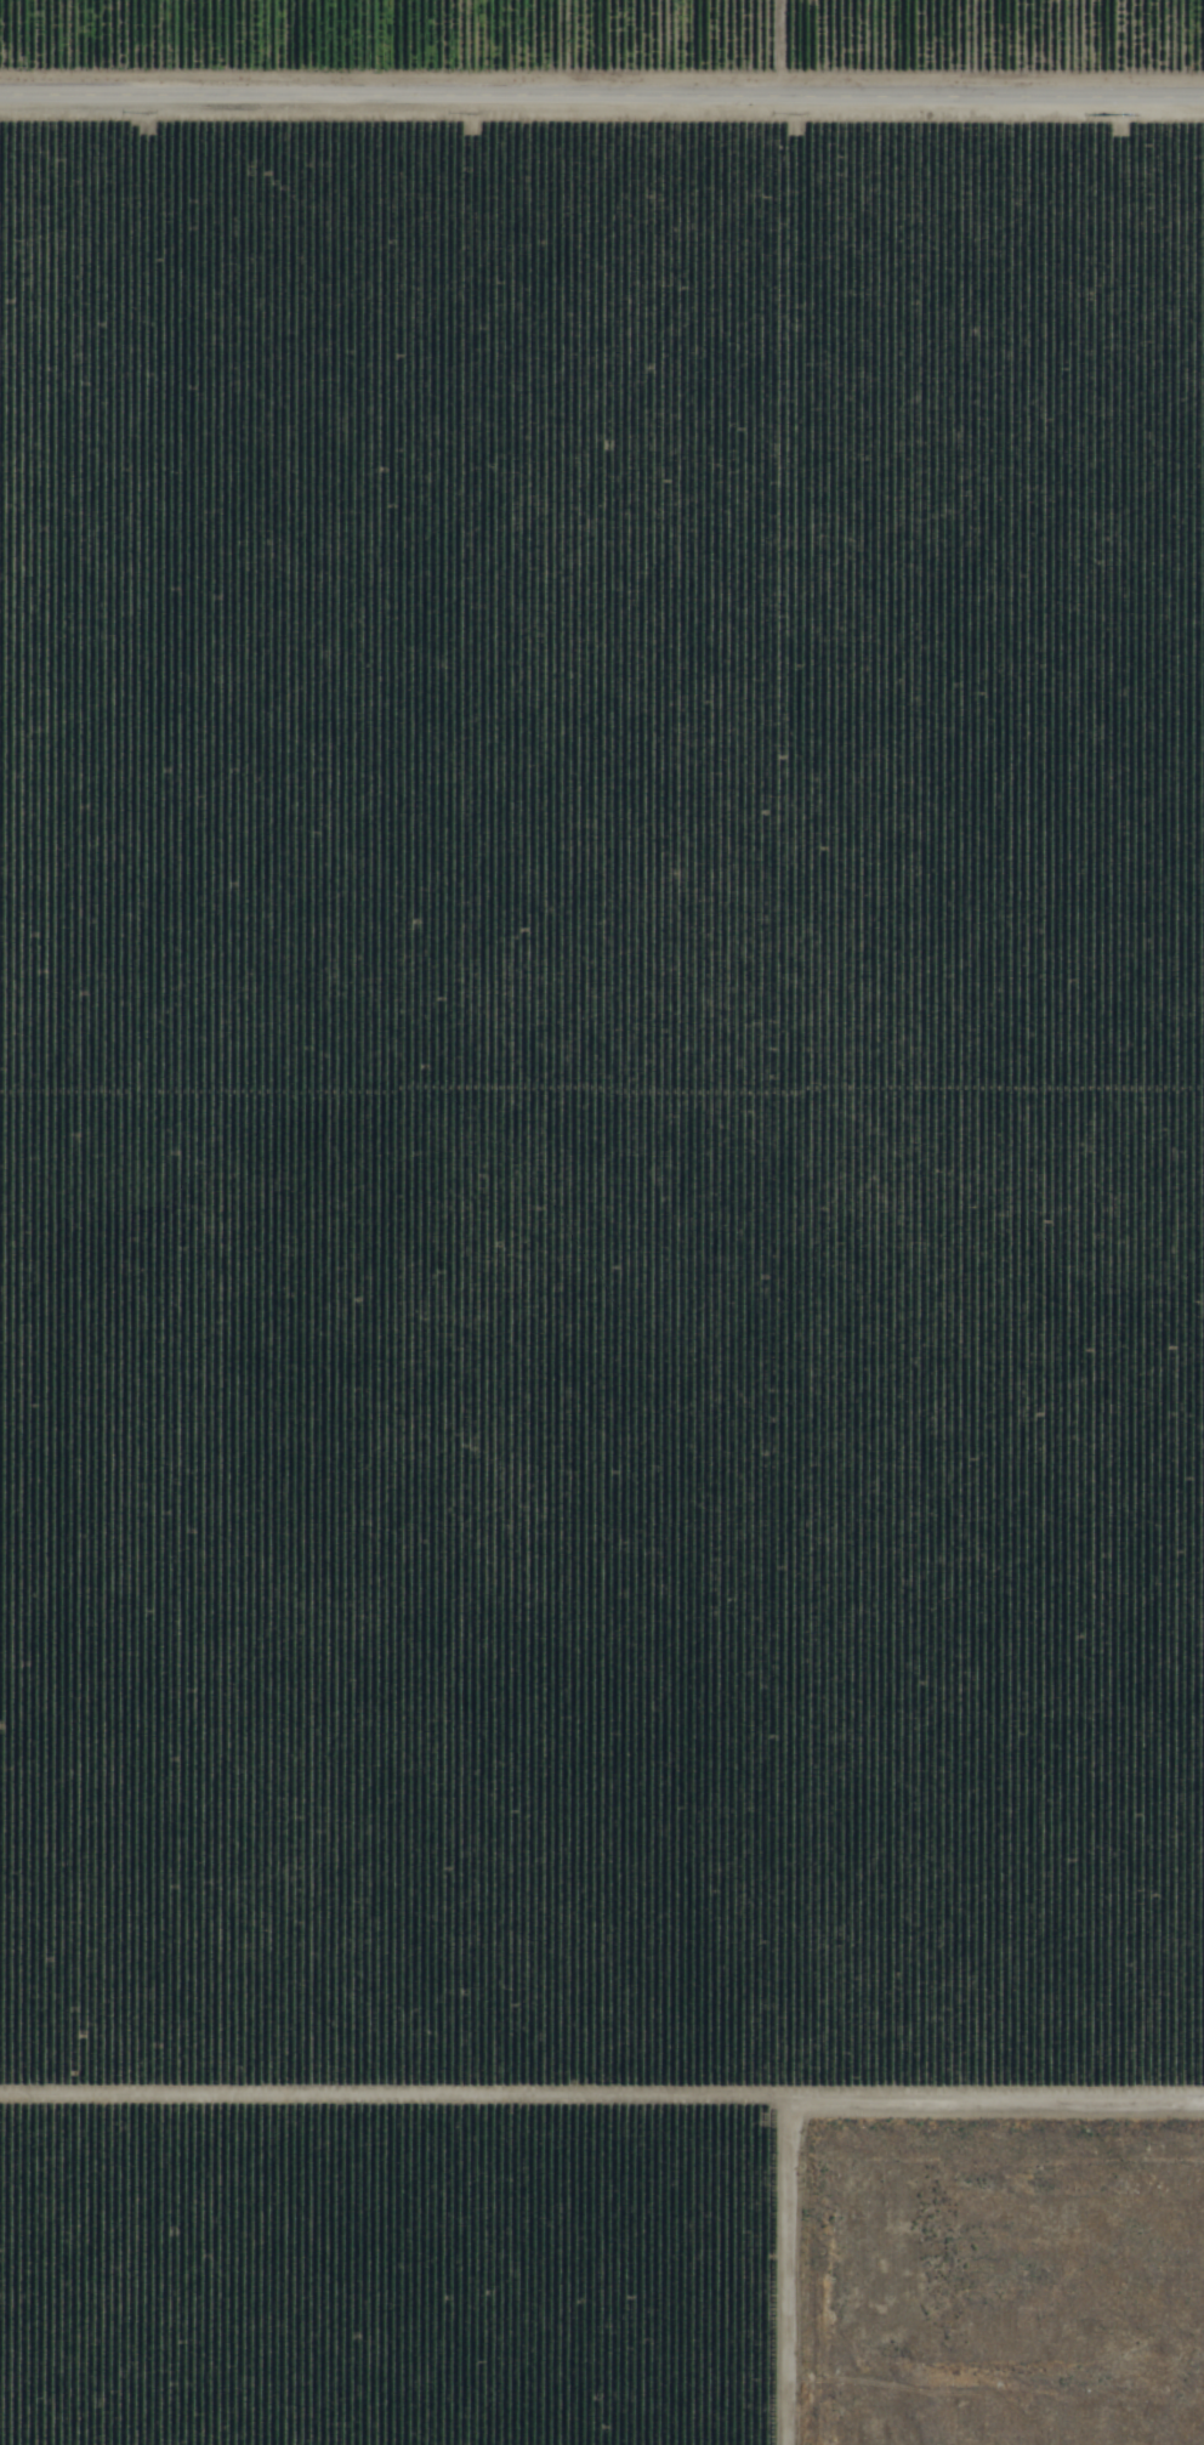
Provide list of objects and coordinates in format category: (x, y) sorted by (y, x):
road: (602, 103)
crop: (580, 1167)
road: (602, 2114)

